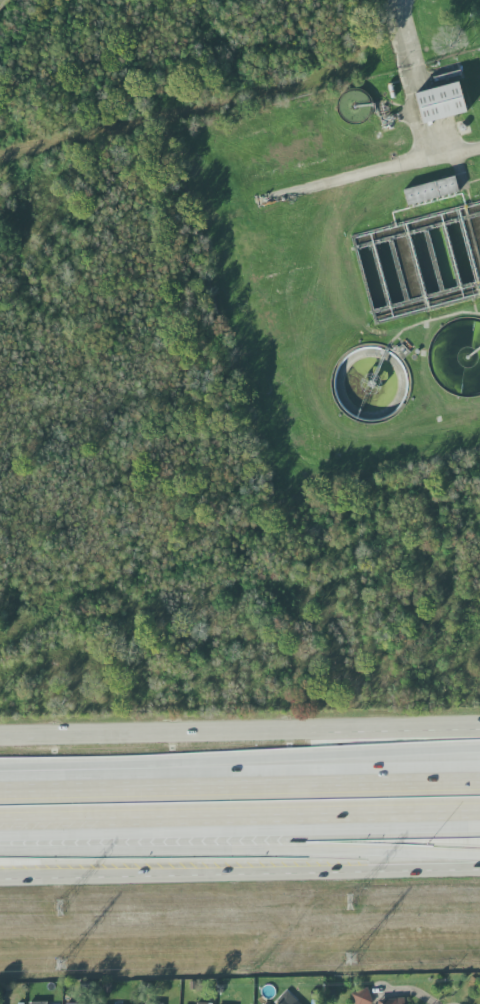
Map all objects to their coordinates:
road: (412, 83)
building: (440, 103)
road: (374, 177)
building: (431, 191)
wastewater plant: (359, 265)
road: (240, 728)
road: (348, 773)
road: (239, 788)
road: (240, 814)
road: (239, 845)
road: (239, 872)
power tower: (350, 903)
power tower: (58, 909)
power tower: (350, 952)
power tower: (59, 960)
building: (361, 997)
building: (287, 998)
building: (393, 1001)
building: (38, 1002)
building: (153, 1003)
building: (203, 1003)

